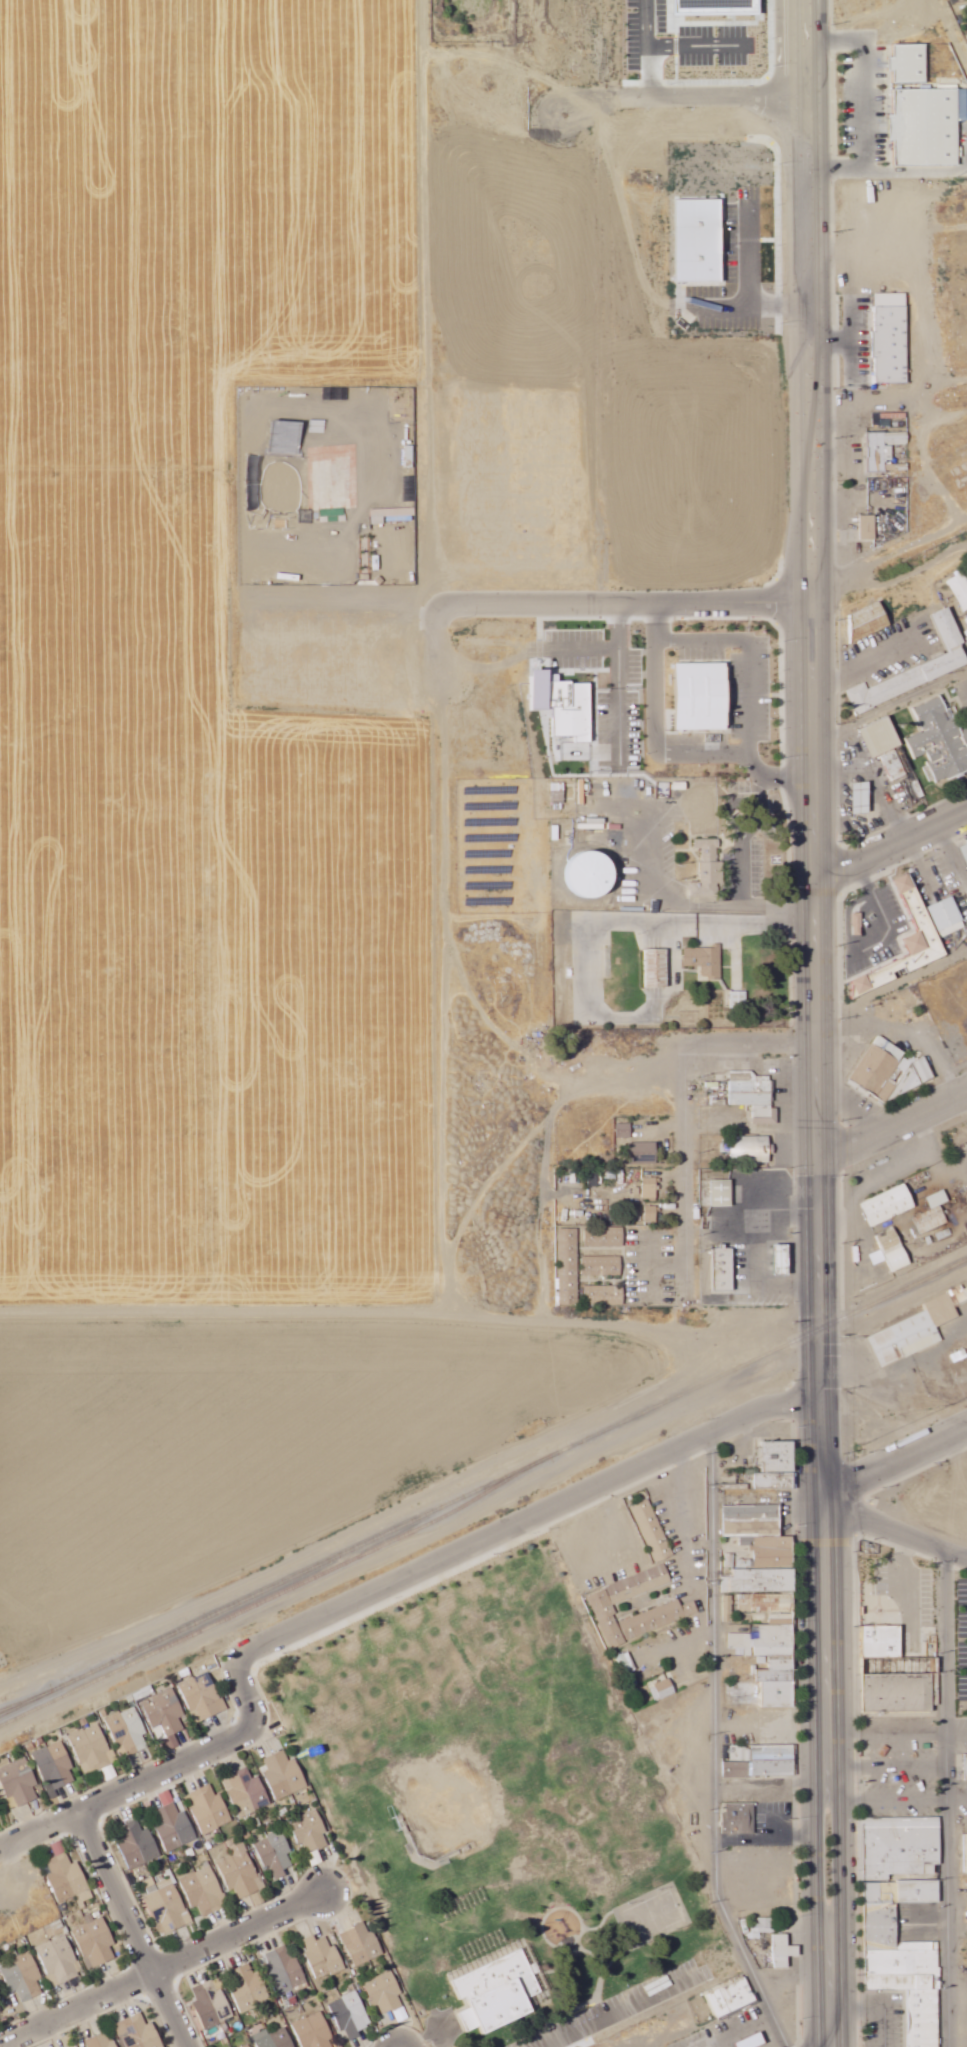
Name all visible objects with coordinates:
building: (718, 7)
building: (966, 35)
building: (910, 63)
building: (928, 126)
building: (891, 338)
building: (286, 437)
building: (884, 450)
building: (868, 527)
building: (960, 590)
road: (733, 602)
road: (560, 603)
building: (868, 621)
road: (583, 646)
road: (744, 656)
building: (918, 668)
road: (619, 682)
building: (702, 697)
building: (564, 704)
building: (939, 742)
building: (884, 746)
road: (666, 753)
building: (558, 793)
building: (861, 798)
building: (707, 808)
road: (890, 837)
building: (965, 850)
building: (707, 869)
building: (594, 875)
road: (813, 888)
building: (947, 917)
building: (858, 924)
building: (562, 927)
building: (908, 941)
building: (705, 961)
building: (656, 968)
building: (739, 999)
building: (887, 1073)
road: (673, 1095)
building: (753, 1096)
road: (743, 1123)
road: (892, 1123)
building: (624, 1131)
building: (750, 1150)
building: (643, 1153)
building: (651, 1188)
building: (722, 1194)
building: (889, 1206)
building: (652, 1214)
building: (933, 1214)
building: (604, 1237)
building: (894, 1250)
building: (877, 1258)
building: (602, 1266)
building: (568, 1267)
building: (723, 1269)
building: (604, 1295)
building: (905, 1339)
road: (893, 1465)
building: (778, 1466)
railway: (483, 1486)
road: (866, 1517)
road: (527, 1526)
building: (652, 1530)
road: (938, 1539)
road: (911, 1580)
building: (772, 1602)
railway: (258, 1603)
building: (745, 1603)
building: (603, 1604)
building: (728, 1608)
building: (767, 1638)
building: (882, 1641)
building: (626, 1663)
building: (778, 1684)
building: (666, 1688)
building: (898, 1692)
building: (202, 1697)
railway: (9, 1707)
building: (164, 1711)
building: (128, 1730)
road: (956, 1730)
building: (92, 1749)
road: (711, 1753)
building: (761, 1761)
building: (54, 1766)
building: (284, 1775)
road: (159, 1778)
building: (18, 1782)
building: (246, 1792)
road: (946, 1794)
road: (891, 1799)
park: (495, 1804)
building: (209, 1810)
building: (740, 1818)
building: (173, 1824)
building: (310, 1834)
building: (137, 1844)
building: (966, 1852)
building: (275, 1854)
building: (240, 1870)
building: (68, 1877)
building: (203, 1890)
building: (166, 1906)
road: (836, 1909)
road: (816, 1910)
building: (881, 1922)
building: (761, 1928)
road: (137, 1930)
building: (95, 1942)
building: (362, 1944)
building: (783, 1951)
building: (323, 1957)
building: (58, 1961)
building: (284, 1969)
road: (165, 1971)
building: (22, 1976)
building: (247, 1987)
building: (498, 1993)
building: (387, 1995)
building: (732, 1997)
building: (211, 2004)
road: (626, 2011)
building: (351, 2015)
building: (314, 2031)
building: (139, 2032)
building: (274, 2038)
building: (101, 2040)
building: (248, 2046)

